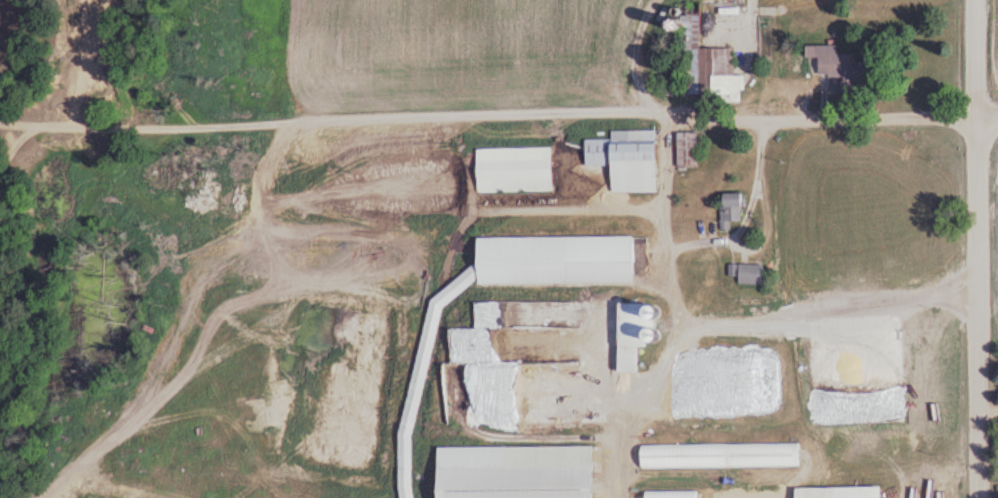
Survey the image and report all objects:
road: (0, 2)
road: (985, 58)
building: (703, 60)
building: (833, 60)
road: (1, 111)
road: (493, 114)
road: (992, 115)
building: (687, 149)
building: (626, 159)
building: (514, 169)
building: (730, 209)
building: (624, 249)
building: (520, 260)
road: (987, 307)
building: (151, 329)
building: (633, 333)
building: (683, 455)
building: (514, 457)

